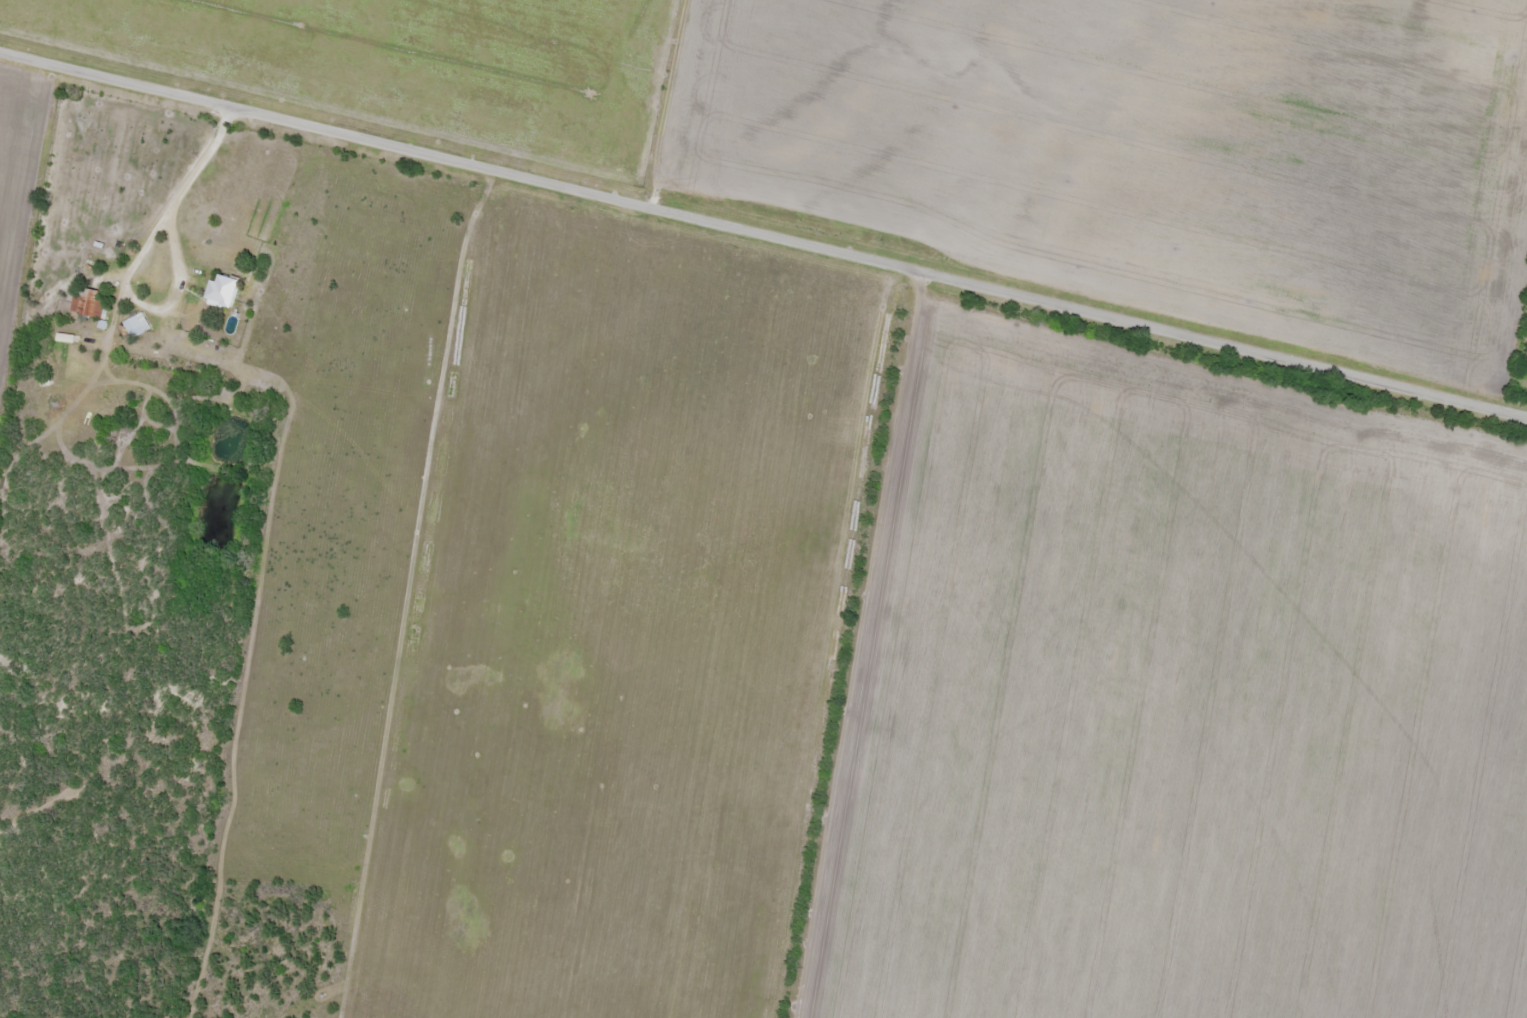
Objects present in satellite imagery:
road: (763, 225)
road: (140, 257)

